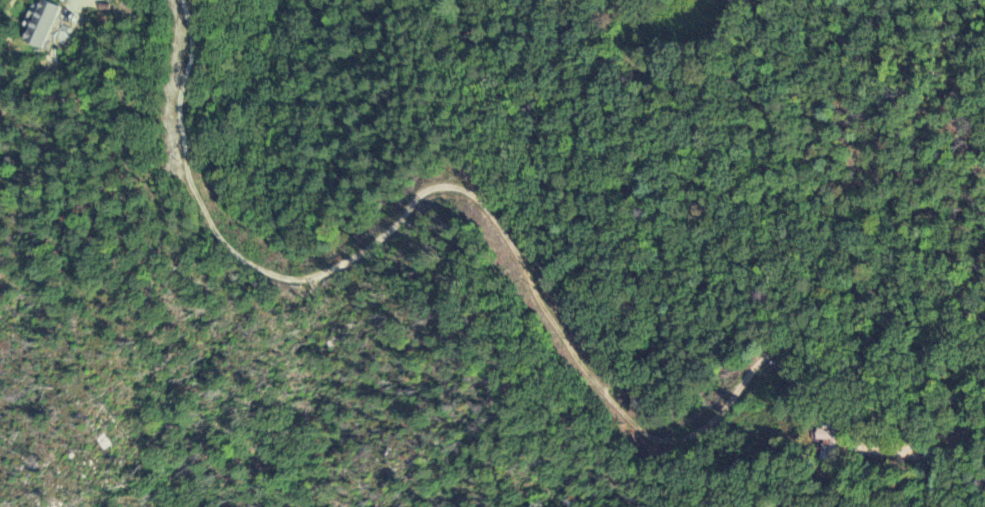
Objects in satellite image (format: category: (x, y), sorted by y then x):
building: (42, 25)
road: (426, 190)
building: (831, 441)

